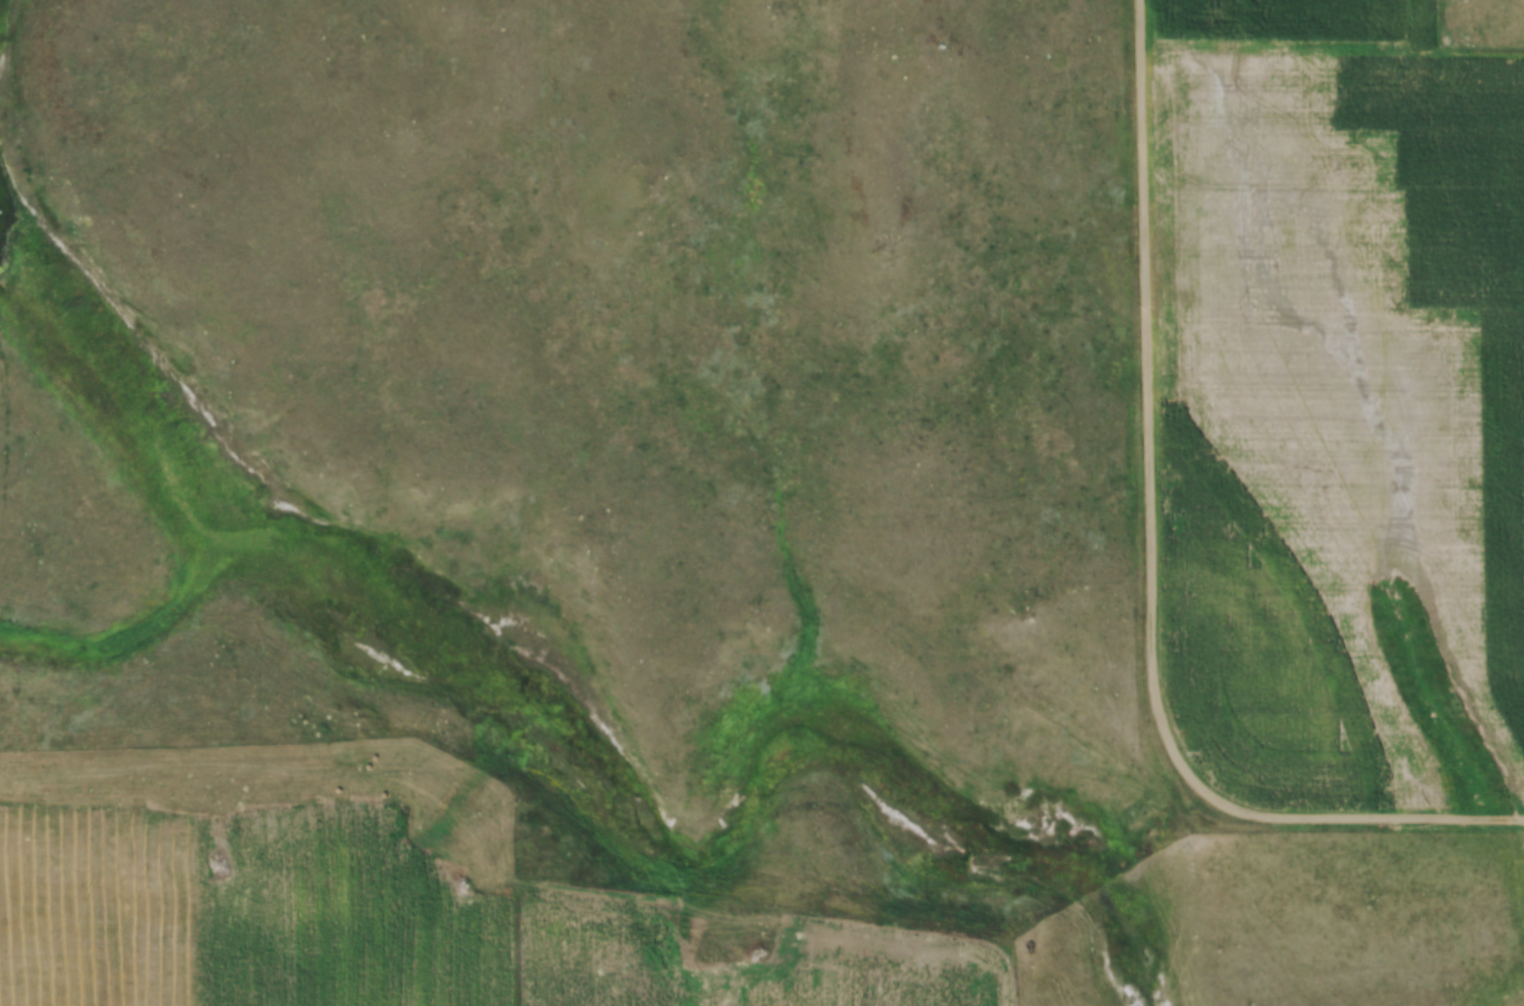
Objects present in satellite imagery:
road: (1154, 455)
road: (1405, 822)

